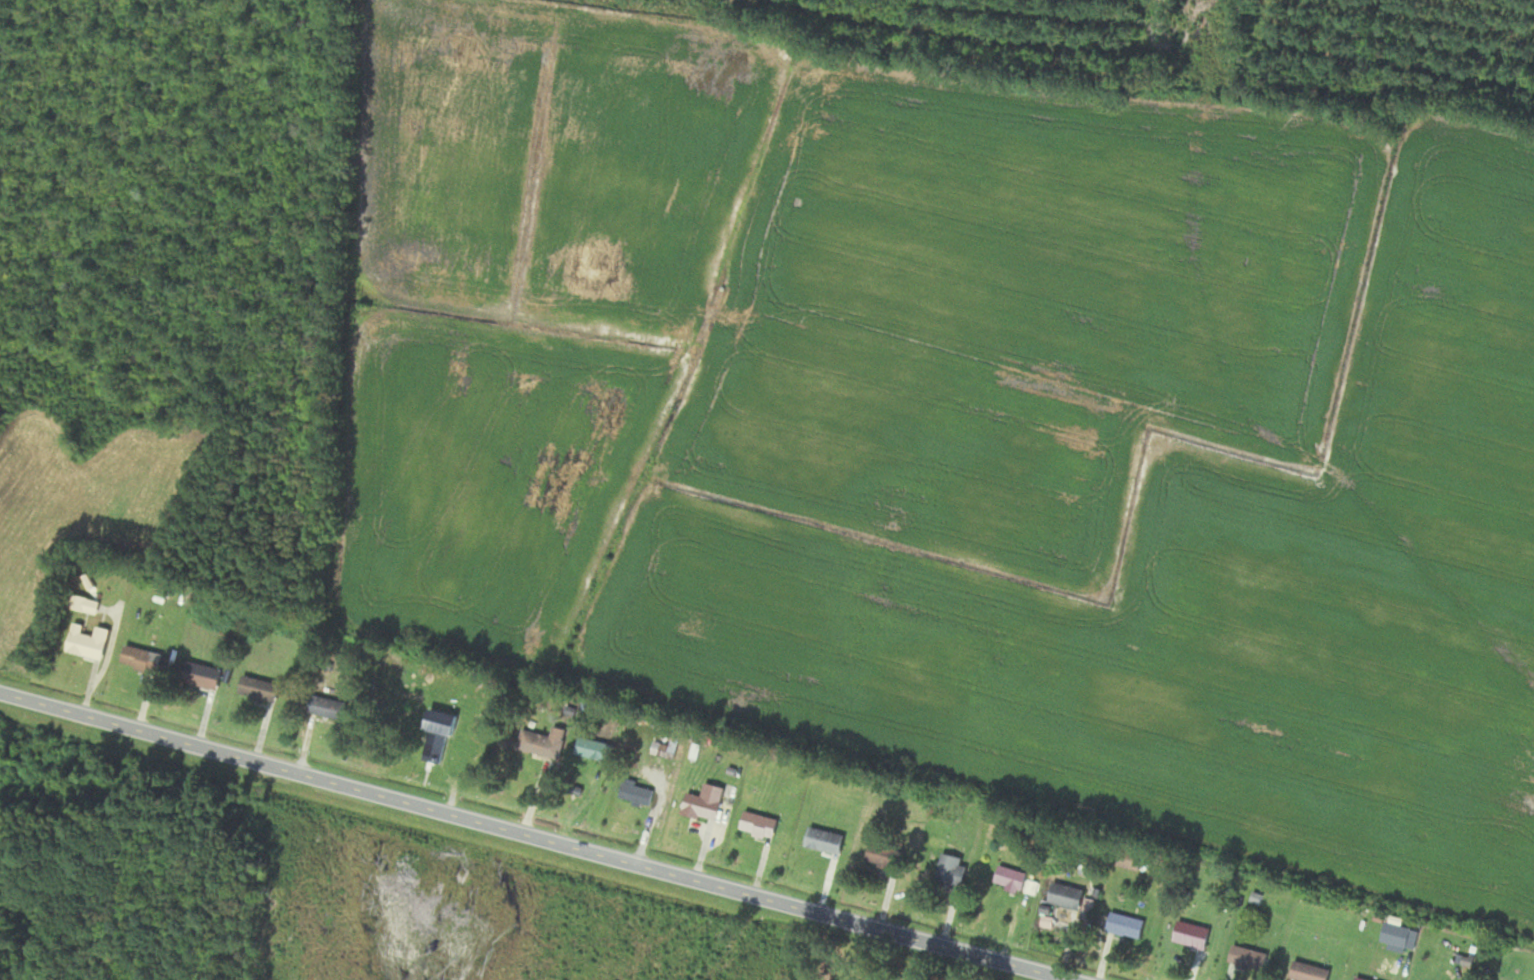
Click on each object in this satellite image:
building: (86, 641)
building: (139, 658)
building: (200, 674)
building: (257, 688)
building: (326, 707)
building: (435, 736)
building: (542, 742)
building: (635, 793)
building: (703, 802)
building: (757, 824)
road: (526, 833)
building: (823, 840)
building: (883, 856)
building: (950, 870)
building: (1010, 878)
building: (1065, 895)
building: (1123, 925)
building: (1191, 934)
building: (1247, 960)
building: (1308, 972)
building: (1359, 978)
building: (843, 979)

